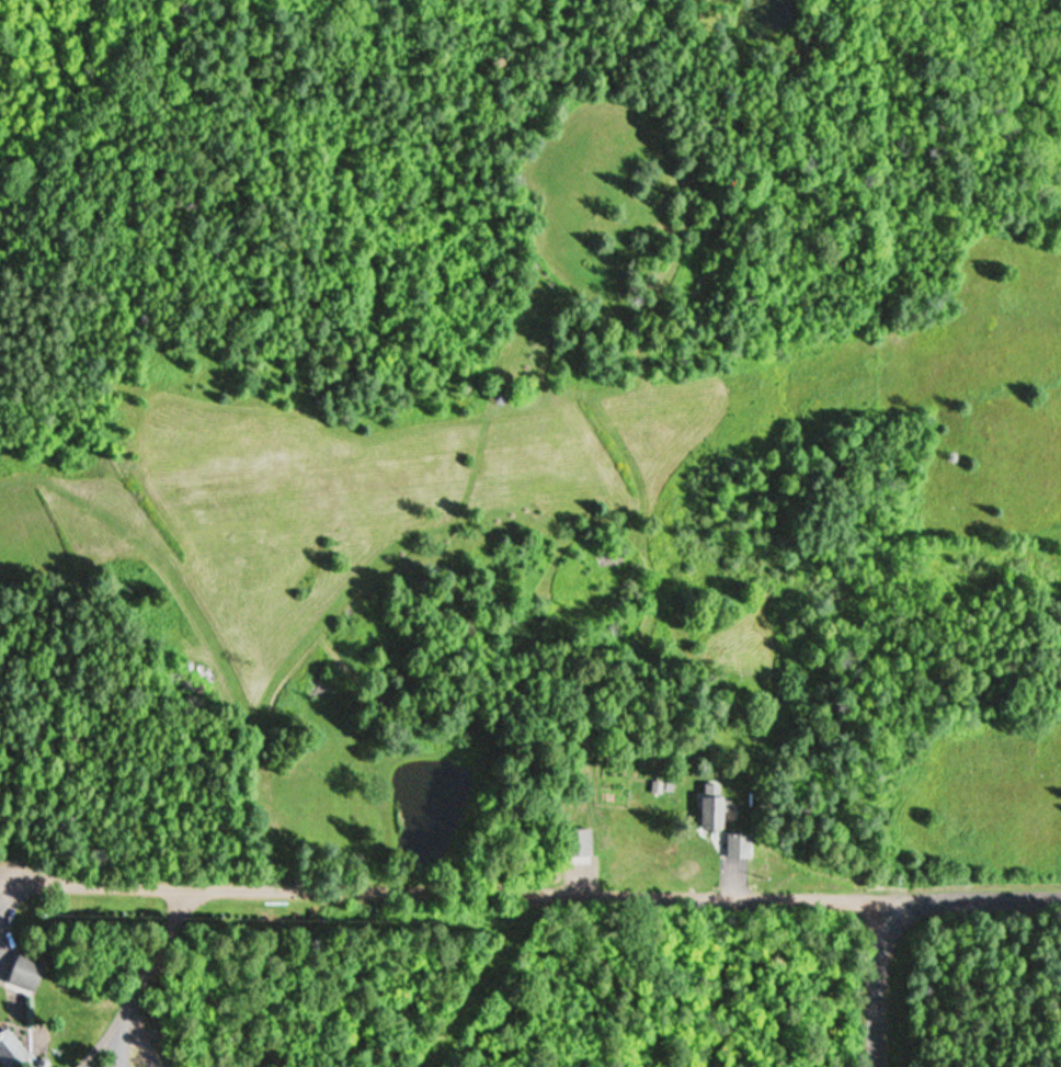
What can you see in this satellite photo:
building: (703, 808)
building: (571, 844)
building: (728, 845)
road: (530, 897)
building: (20, 972)
road: (882, 985)
building: (5, 1052)

